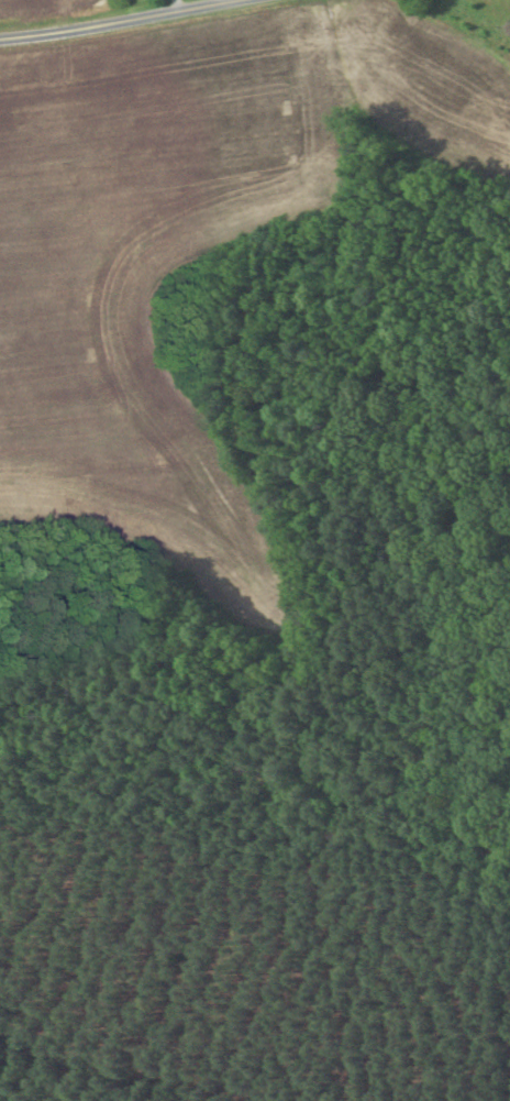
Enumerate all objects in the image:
road: (134, 21)

